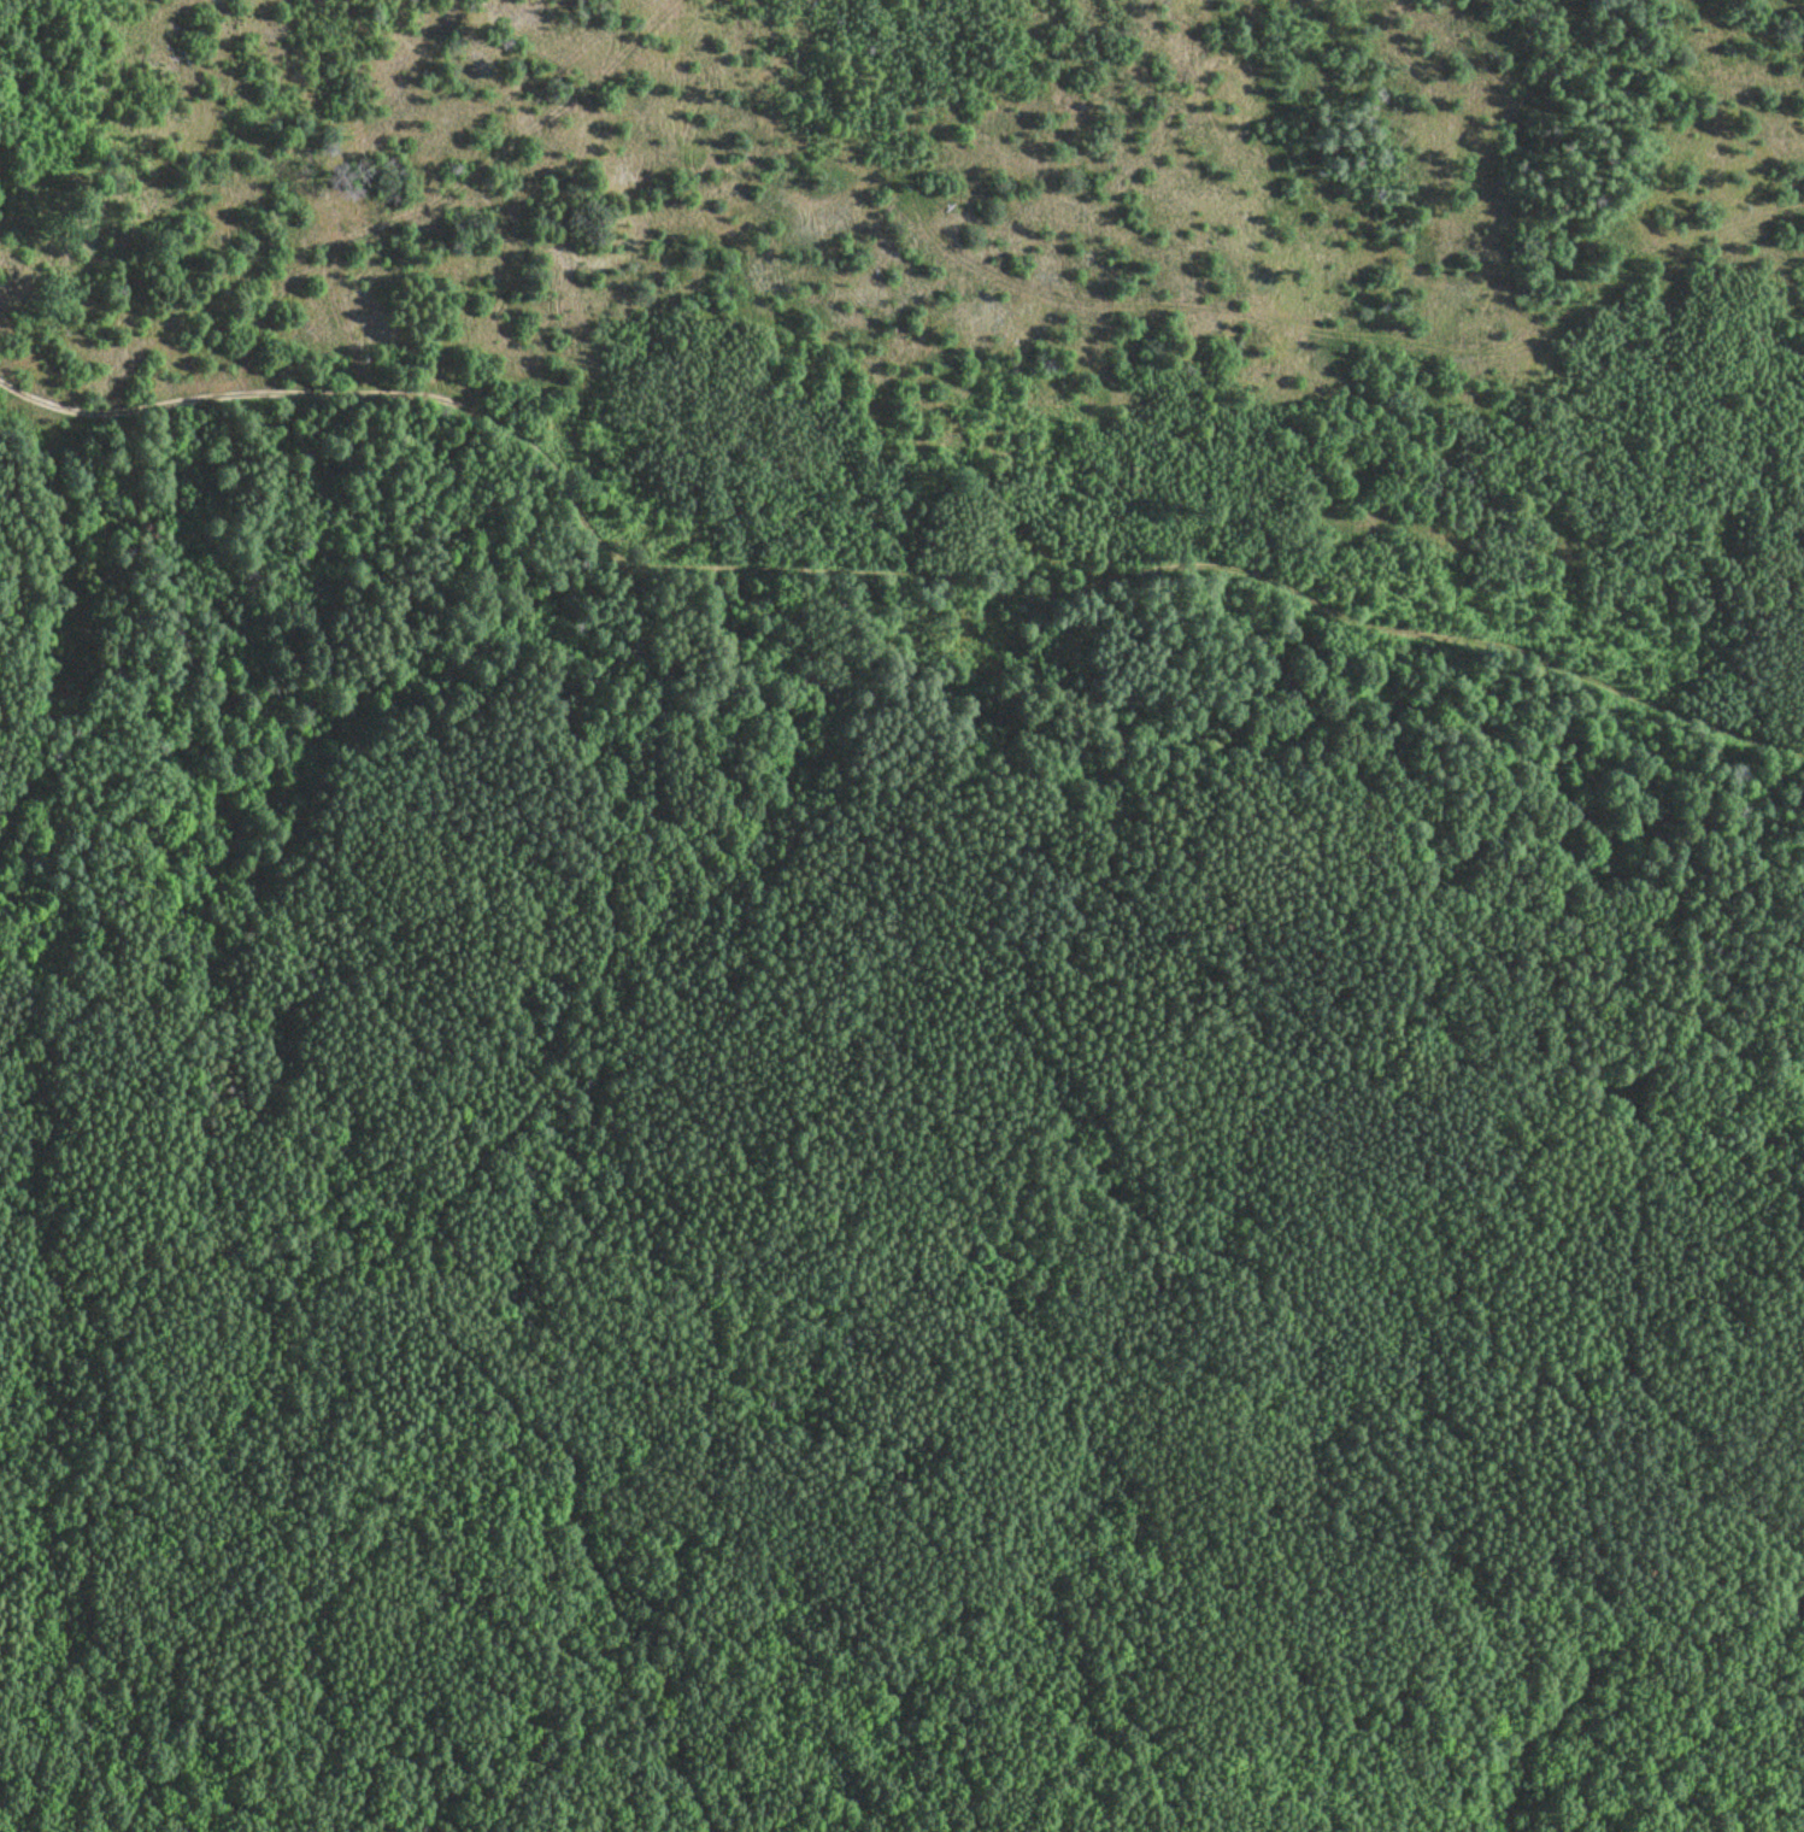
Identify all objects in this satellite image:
road: (885, 575)

